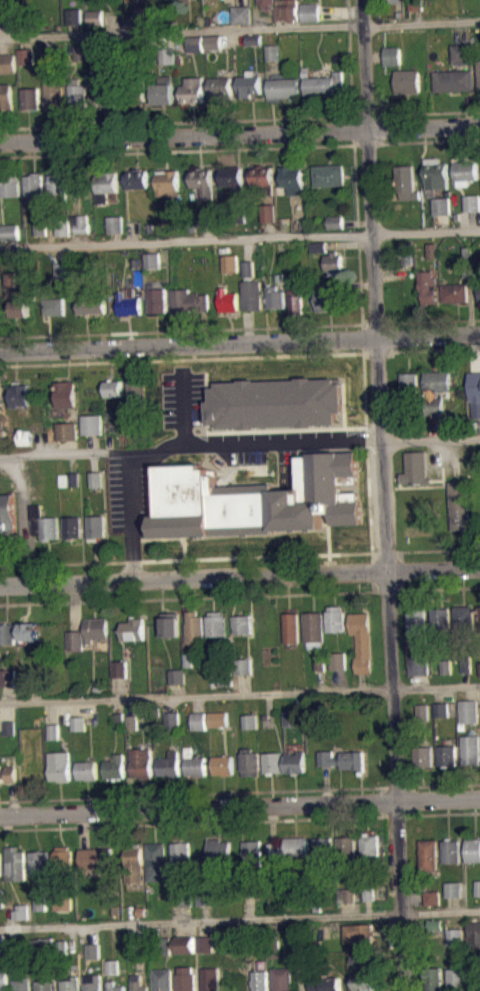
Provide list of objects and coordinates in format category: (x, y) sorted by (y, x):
building: (50, 0)
building: (139, 0)
building: (182, 0)
building: (221, 1)
building: (390, 1)
building: (167, 2)
road: (240, 3)
building: (266, 3)
building: (415, 5)
building: (288, 10)
building: (311, 12)
building: (140, 13)
building: (241, 14)
building: (15, 15)
building: (73, 16)
road: (418, 16)
building: (94, 17)
road: (267, 19)
road: (239, 29)
building: (253, 38)
building: (213, 41)
building: (194, 43)
building: (272, 51)
building: (78, 52)
building: (97, 53)
building: (462, 53)
building: (167, 54)
building: (25, 55)
building: (392, 55)
building: (7, 63)
building: (479, 71)
building: (453, 80)
building: (407, 81)
building: (325, 83)
building: (249, 84)
building: (284, 86)
building: (134, 88)
building: (220, 88)
building: (191, 89)
building: (163, 90)
building: (53, 95)
building: (75, 95)
building: (6, 97)
building: (103, 97)
building: (30, 98)
road: (416, 112)
road: (234, 119)
road: (381, 128)
road: (240, 134)
road: (240, 148)
building: (465, 171)
building: (262, 173)
building: (436, 173)
building: (328, 174)
building: (138, 177)
building: (233, 178)
building: (293, 178)
building: (202, 181)
building: (406, 181)
building: (168, 182)
building: (9, 185)
building: (105, 185)
building: (57, 186)
building: (33, 187)
road: (385, 195)
building: (472, 202)
building: (441, 205)
building: (268, 212)
building: (239, 213)
building: (205, 218)
building: (171, 220)
building: (335, 221)
building: (116, 223)
building: (83, 224)
building: (63, 227)
building: (39, 228)
building: (335, 228)
road: (268, 229)
building: (9, 231)
road: (357, 233)
road: (240, 238)
building: (319, 246)
building: (432, 249)
building: (319, 253)
building: (407, 255)
building: (152, 260)
building: (136, 262)
building: (469, 262)
building: (230, 263)
building: (333, 263)
building: (408, 265)
building: (62, 270)
road: (389, 271)
building: (8, 279)
building: (428, 286)
building: (250, 288)
building: (479, 291)
building: (454, 292)
building: (329, 294)
building: (274, 296)
building: (157, 300)
building: (227, 300)
building: (188, 301)
building: (296, 301)
building: (128, 302)
building: (20, 304)
building: (90, 305)
road: (470, 305)
building: (54, 306)
road: (428, 321)
road: (188, 329)
road: (391, 337)
road: (240, 341)
road: (428, 350)
road: (181, 358)
building: (409, 382)
building: (115, 386)
building: (137, 387)
building: (435, 390)
building: (68, 392)
building: (19, 393)
building: (114, 394)
building: (0, 399)
building: (275, 402)
building: (476, 409)
building: (92, 424)
building: (409, 425)
road: (390, 426)
road: (434, 426)
building: (136, 427)
building: (68, 429)
building: (3, 436)
road: (430, 438)
building: (25, 443)
road: (136, 443)
building: (3, 444)
road: (68, 445)
road: (367, 445)
road: (190, 447)
parking lot: (197, 450)
road: (64, 453)
building: (416, 468)
road: (230, 472)
building: (73, 478)
building: (96, 478)
building: (97, 485)
building: (70, 486)
road: (382, 495)
building: (257, 499)
building: (461, 503)
building: (7, 513)
building: (43, 523)
building: (71, 527)
building: (95, 527)
road: (158, 538)
road: (184, 547)
road: (418, 549)
road: (372, 572)
road: (240, 576)
road: (426, 588)
building: (465, 617)
building: (335, 618)
building: (441, 621)
building: (241, 623)
building: (170, 624)
building: (215, 624)
building: (417, 625)
building: (195, 627)
building: (290, 627)
building: (313, 628)
building: (133, 629)
building: (29, 630)
building: (7, 633)
building: (88, 633)
building: (362, 640)
building: (188, 658)
building: (338, 660)
building: (321, 661)
building: (442, 664)
building: (466, 664)
building: (243, 665)
building: (419, 665)
building: (120, 669)
building: (177, 676)
building: (9, 677)
building: (225, 678)
building: (9, 686)
road: (240, 693)
building: (442, 708)
building: (423, 710)
building: (469, 710)
building: (442, 716)
building: (218, 718)
building: (291, 718)
building: (423, 718)
building: (119, 719)
building: (171, 720)
building: (198, 720)
building: (267, 720)
building: (132, 721)
building: (249, 721)
building: (80, 723)
building: (11, 727)
building: (133, 728)
building: (250, 728)
building: (54, 731)
building: (12, 734)
building: (471, 750)
building: (447, 755)
building: (424, 756)
building: (342, 759)
building: (294, 761)
building: (141, 762)
building: (250, 762)
building: (272, 762)
building: (169, 764)
building: (223, 764)
building: (60, 766)
building: (195, 766)
building: (115, 767)
building: (87, 770)
building: (8, 774)
road: (431, 784)
road: (206, 793)
road: (407, 800)
road: (240, 808)
road: (239, 820)
building: (370, 845)
building: (347, 847)
building: (288, 848)
building: (473, 849)
building: (451, 850)
building: (252, 851)
building: (217, 852)
building: (324, 852)
building: (180, 853)
building: (428, 854)
building: (62, 858)
building: (95, 858)
building: (39, 861)
building: (158, 862)
building: (0, 863)
building: (15, 863)
building: (134, 864)
building: (478, 887)
building: (454, 888)
building: (369, 891)
building: (205, 894)
building: (248, 894)
building: (347, 894)
building: (433, 897)
building: (2, 898)
building: (185, 898)
building: (63, 899)
building: (347, 901)
building: (40, 902)
building: (433, 904)
building: (207, 905)
building: (21, 909)
building: (142, 911)
building: (23, 918)
road: (239, 919)
building: (436, 924)
building: (360, 933)
building: (475, 933)
building: (455, 936)
building: (2, 939)
building: (205, 943)
building: (185, 944)
building: (165, 945)
building: (3, 946)
building: (43, 947)
building: (62, 948)
building: (275, 949)
building: (93, 950)
building: (135, 950)
building: (357, 958)
building: (303, 962)
building: (113, 967)
building: (435, 978)
building: (162, 979)
building: (185, 979)
building: (210, 979)
building: (282, 979)
building: (460, 979)
building: (4, 980)
building: (260, 980)
building: (92, 982)
building: (365, 982)
building: (326, 983)
building: (22, 984)
building: (71, 984)
building: (45, 985)
building: (116, 985)
building: (139, 986)

